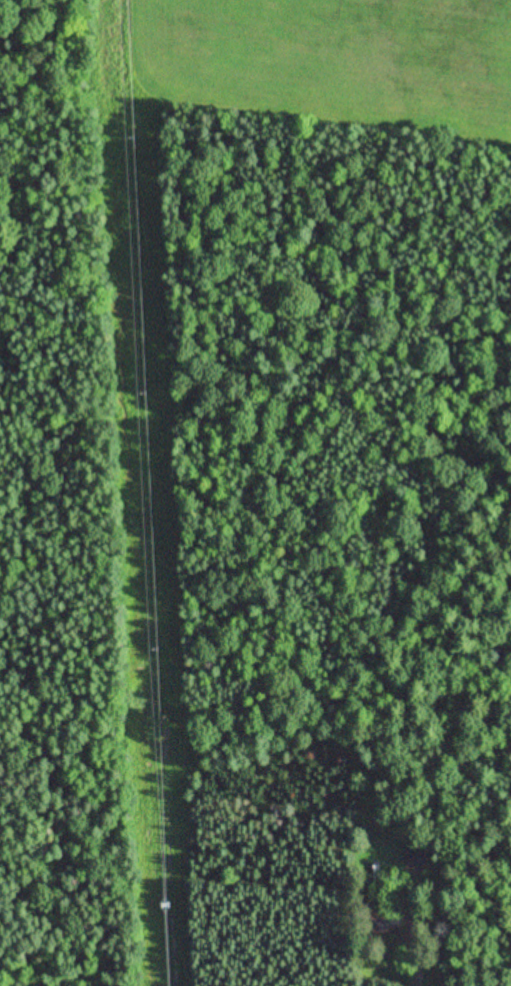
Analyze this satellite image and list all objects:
building: (414, 848)
building: (381, 918)

